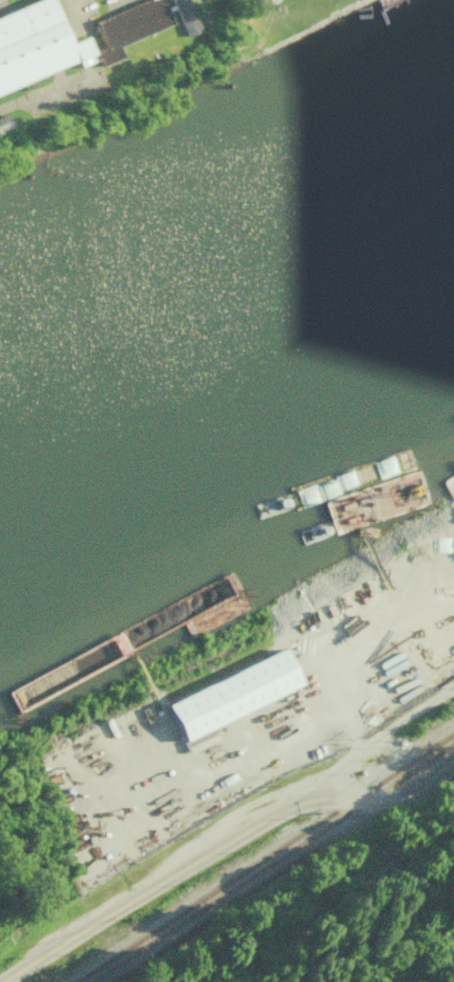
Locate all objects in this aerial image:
building: (184, 16)
building: (43, 45)
river: (229, 326)
building: (229, 693)
road: (381, 750)
road: (232, 849)
railway: (263, 857)
railway: (270, 862)
road: (349, 899)

